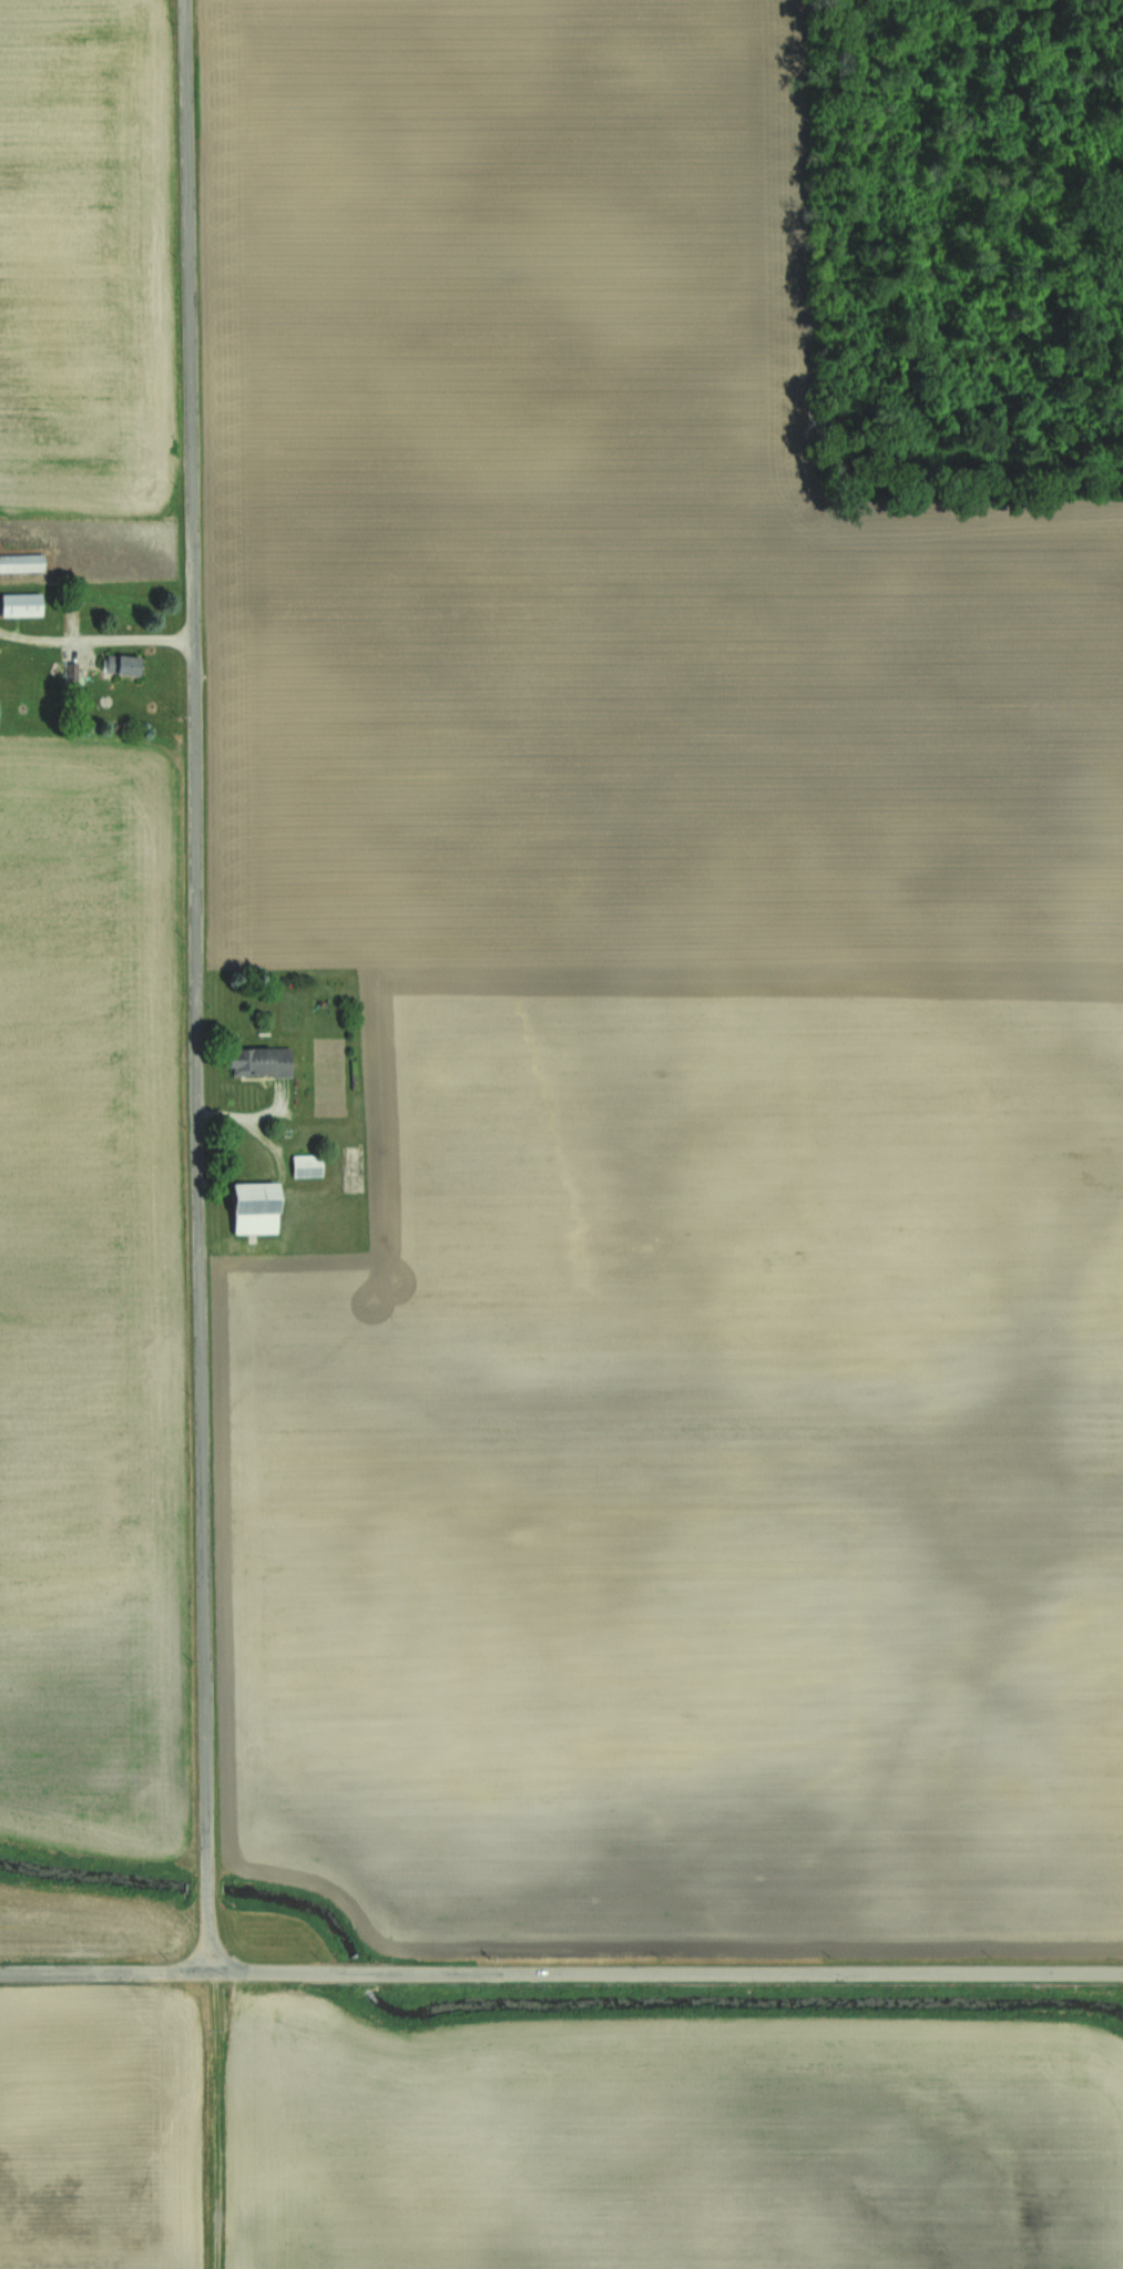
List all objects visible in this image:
building: (22, 563)
building: (21, 605)
building: (122, 666)
road: (197, 987)
building: (259, 1061)
building: (308, 1165)
building: (254, 1207)
road: (561, 1975)

